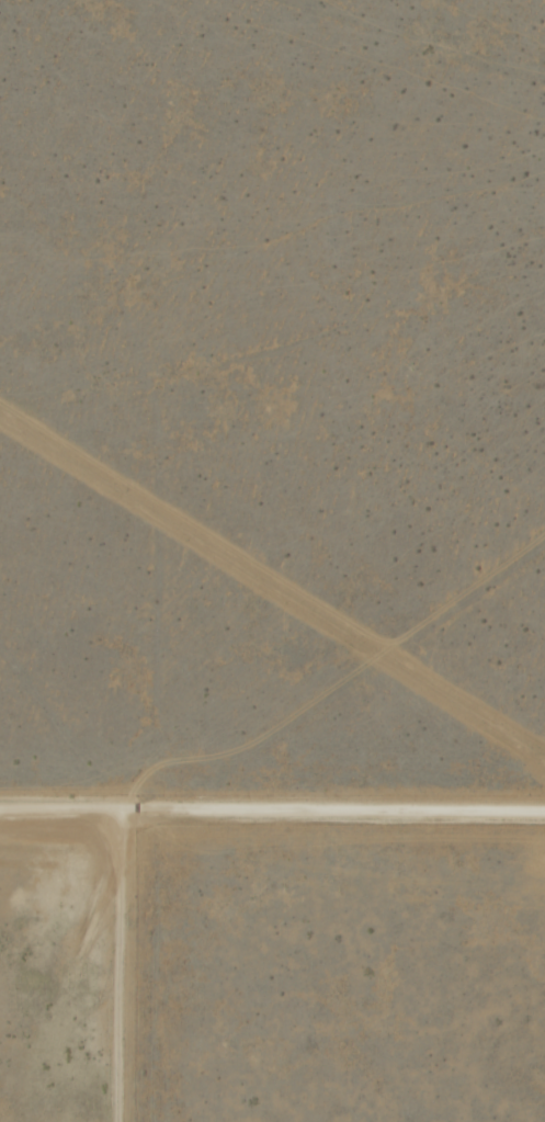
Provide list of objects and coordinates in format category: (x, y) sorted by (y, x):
road: (272, 812)

